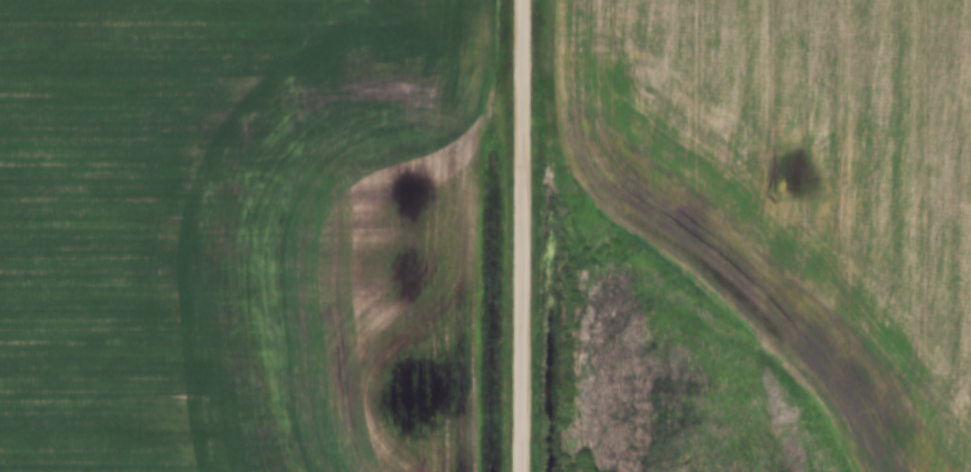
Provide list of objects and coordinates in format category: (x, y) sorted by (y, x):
road: (522, 236)

